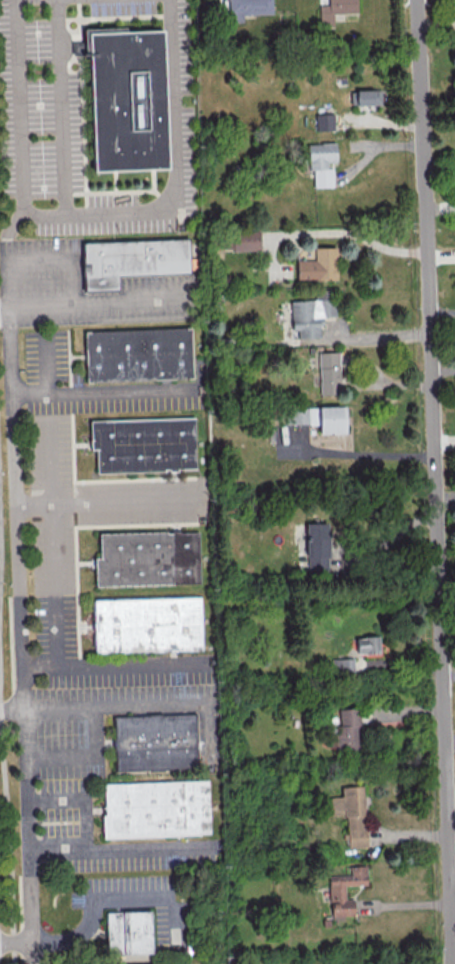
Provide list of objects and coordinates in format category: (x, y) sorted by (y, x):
building: (247, 8)
building: (334, 10)
building: (367, 96)
building: (129, 98)
road: (62, 108)
building: (323, 121)
building: (320, 162)
road: (91, 214)
building: (239, 240)
road: (372, 244)
road: (39, 258)
building: (133, 261)
building: (318, 265)
road: (98, 303)
building: (310, 316)
building: (141, 355)
road: (46, 366)
building: (328, 373)
road: (60, 395)
building: (318, 417)
building: (146, 445)
road: (15, 451)
road: (363, 453)
road: (51, 460)
road: (437, 481)
road: (17, 516)
road: (392, 536)
building: (317, 546)
road: (0, 549)
building: (147, 558)
road: (55, 586)
building: (149, 626)
building: (367, 644)
building: (342, 665)
road: (111, 668)
road: (127, 704)
building: (348, 730)
building: (157, 743)
road: (82, 752)
road: (25, 780)
road: (81, 799)
building: (158, 810)
building: (351, 813)
road: (9, 833)
road: (59, 850)
building: (345, 890)
road: (110, 900)
building: (131, 933)
road: (27, 952)

